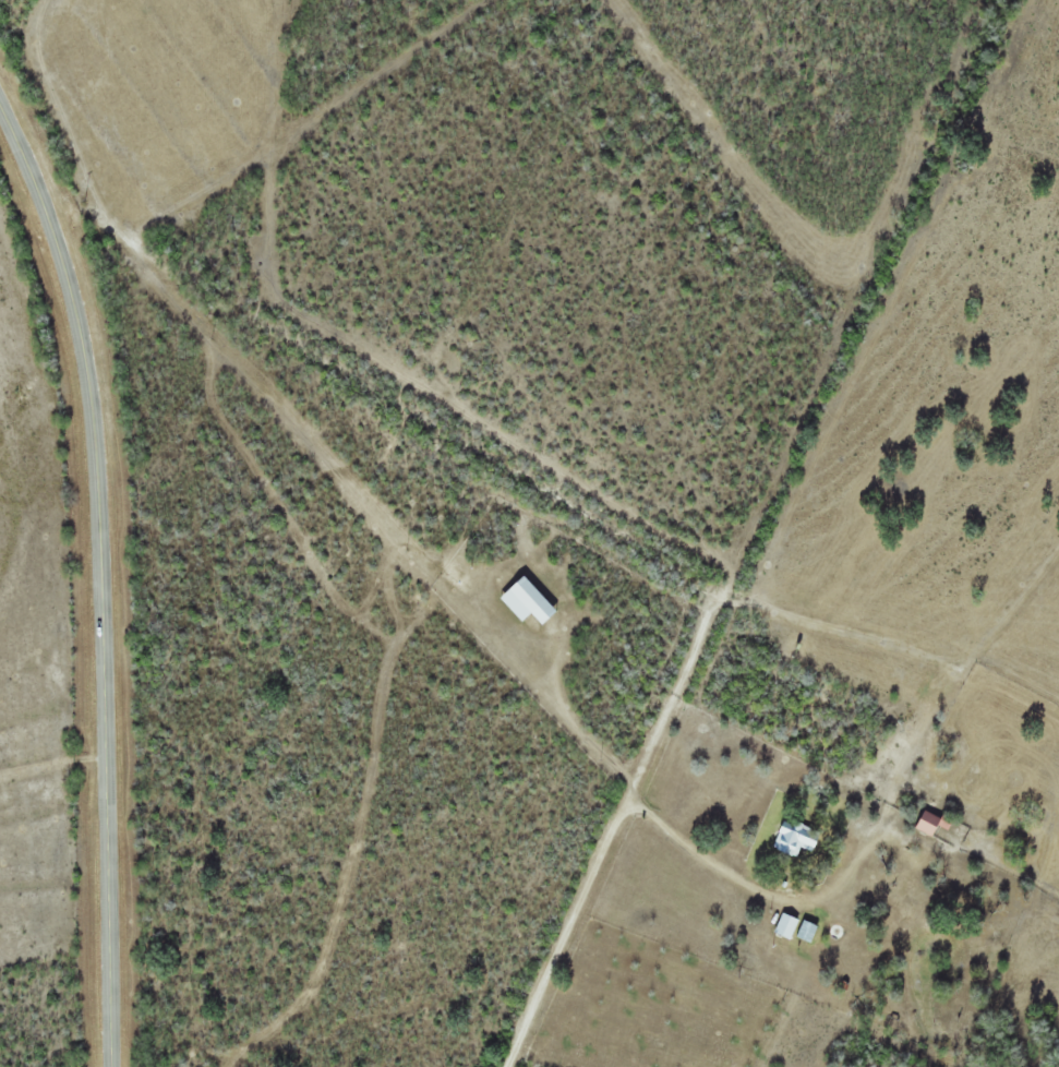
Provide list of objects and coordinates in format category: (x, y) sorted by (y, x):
road: (105, 578)
building: (531, 602)
building: (935, 823)
road: (616, 829)
building: (797, 839)
building: (790, 925)

